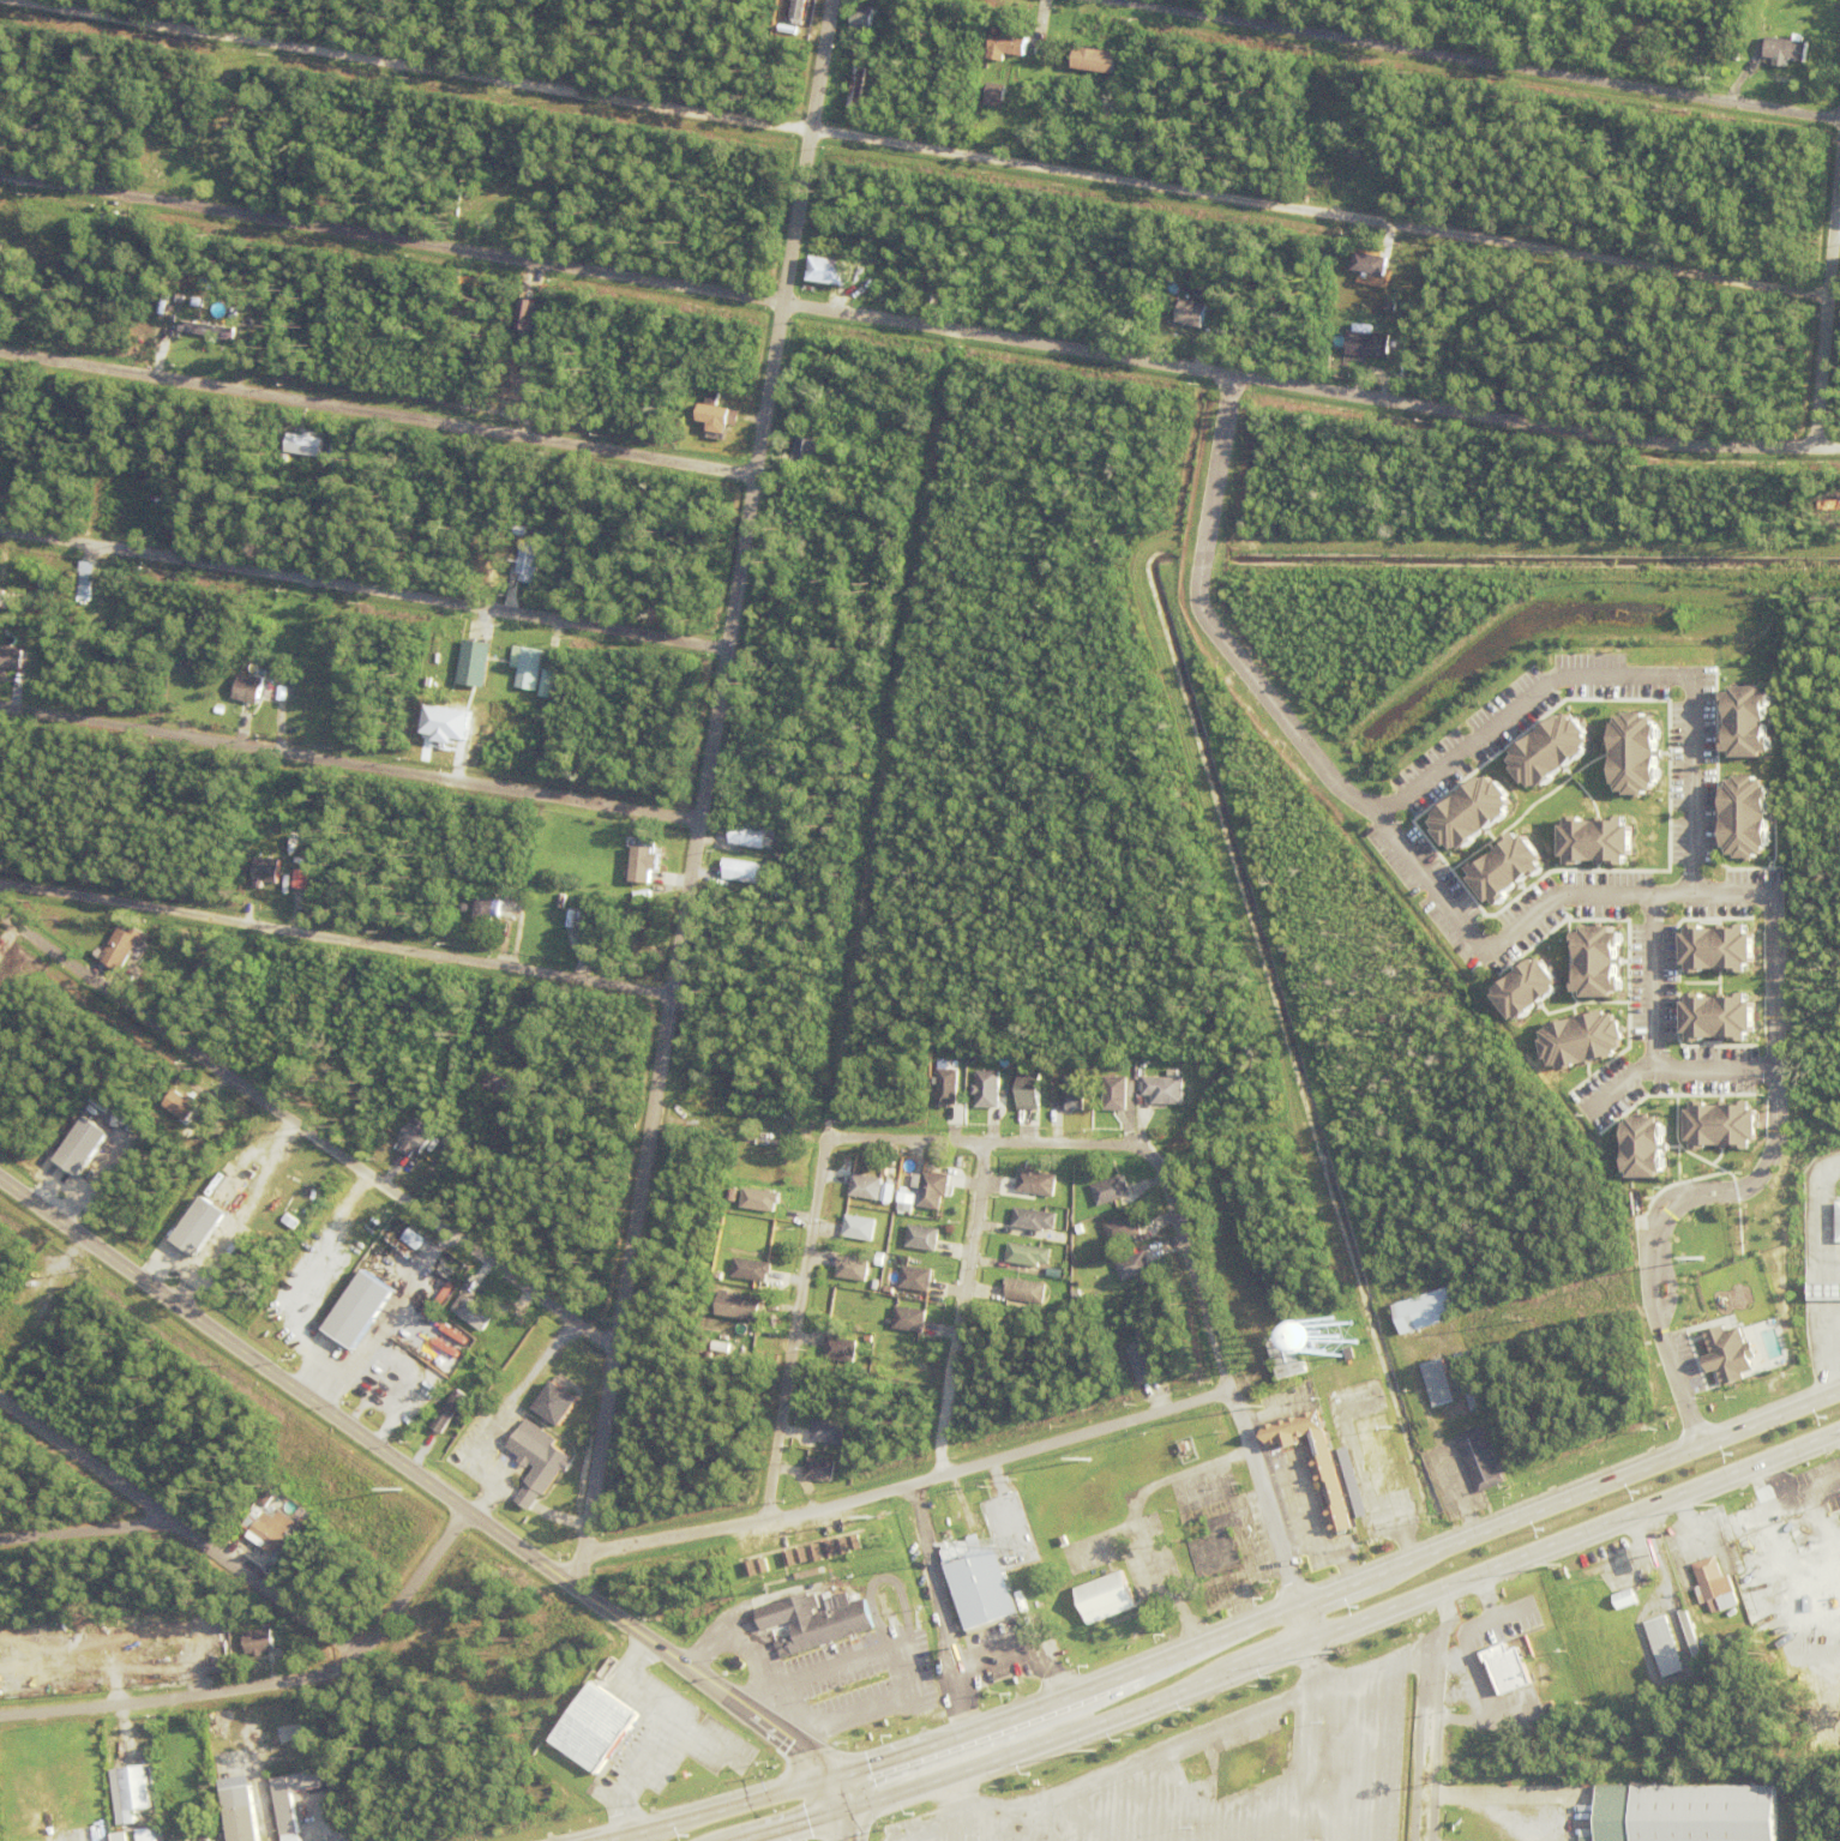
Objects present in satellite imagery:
building: (792, 1)
building: (488, 2)
building: (467, 6)
building: (513, 12)
building: (860, 14)
building: (1108, 37)
building: (1009, 42)
building: (1758, 46)
building: (1786, 50)
building: (1736, 55)
building: (1098, 59)
road: (1475, 60)
building: (1062, 71)
building: (859, 86)
building: (996, 95)
building: (362, 113)
building: (1359, 127)
building: (403, 132)
road: (925, 148)
building: (1363, 156)
building: (1333, 158)
building: (152, 164)
building: (1327, 169)
building: (468, 186)
building: (112, 227)
building: (125, 228)
building: (116, 251)
building: (1367, 263)
building: (824, 270)
building: (527, 284)
building: (1370, 287)
building: (384, 288)
building: (1199, 293)
building: (167, 297)
building: (494, 300)
building: (1189, 312)
building: (523, 314)
building: (1339, 314)
building: (398, 325)
road: (918, 325)
building: (1376, 326)
building: (208, 330)
building: (1186, 337)
building: (1364, 341)
road: (1832, 348)
building: (1203, 350)
building: (714, 410)
building: (73, 411)
road: (380, 414)
building: (305, 434)
building: (35, 441)
building: (810, 452)
building: (11, 457)
building: (467, 461)
building: (188, 494)
building: (1829, 505)
building: (151, 518)
building: (790, 549)
building: (529, 562)
building: (86, 580)
road: (367, 588)
building: (120, 591)
building: (8, 600)
building: (338, 613)
building: (120, 633)
building: (11, 657)
building: (335, 657)
building: (470, 663)
building: (530, 669)
road: (1568, 676)
building: (547, 684)
building: (246, 688)
building: (1744, 722)
building: (441, 723)
building: (1547, 751)
building: (1632, 754)
road: (353, 764)
road: (712, 778)
building: (1468, 812)
building: (1743, 817)
building: (748, 837)
building: (1594, 841)
building: (74, 858)
building: (645, 866)
building: (1503, 868)
building: (264, 871)
building: (742, 872)
building: (299, 879)
building: (261, 886)
building: (563, 902)
building: (497, 910)
building: (571, 916)
building: (584, 921)
road: (861, 928)
building: (589, 931)
building: (505, 938)
road: (338, 939)
building: (122, 947)
building: (1714, 949)
building: (0, 962)
building: (1595, 962)
building: (23, 970)
building: (413, 985)
building: (1523, 989)
building: (408, 1005)
building: (1714, 1018)
building: (483, 1034)
building: (1579, 1040)
building: (495, 1045)
building: (301, 1054)
building: (948, 1089)
building: (988, 1090)
building: (1165, 1091)
building: (1030, 1093)
building: (1074, 1094)
building: (1117, 1095)
building: (175, 1103)
building: (724, 1109)
building: (435, 1121)
building: (198, 1124)
building: (1718, 1125)
road: (306, 1132)
building: (416, 1142)
building: (1640, 1148)
building: (84, 1149)
building: (390, 1156)
road: (1763, 1172)
building: (1201, 1178)
building: (1038, 1184)
building: (867, 1189)
building: (931, 1190)
building: (1112, 1192)
building: (214, 1198)
building: (758, 1199)
building: (1202, 1202)
building: (734, 1203)
building: (907, 1208)
building: (1034, 1221)
building: (1838, 1221)
building: (1255, 1222)
building: (200, 1229)
building: (860, 1229)
building: (1124, 1231)
building: (410, 1239)
building: (758, 1239)
building: (924, 1239)
road: (1189, 1245)
building: (897, 1253)
building: (1029, 1257)
building: (850, 1268)
building: (1135, 1268)
building: (752, 1271)
building: (916, 1280)
building: (1749, 1289)
building: (1026, 1292)
building: (1077, 1298)
building: (996, 1299)
building: (736, 1306)
building: (354, 1311)
road: (966, 1313)
building: (1429, 1313)
building: (476, 1317)
building: (910, 1322)
building: (885, 1331)
building: (841, 1352)
building: (1726, 1354)
building: (438, 1358)
building: (1288, 1358)
building: (1138, 1360)
building: (1336, 1368)
building: (402, 1378)
building: (1472, 1383)
building: (1439, 1384)
building: (1360, 1398)
building: (1329, 1400)
building: (551, 1401)
building: (1336, 1402)
building: (1384, 1402)
building: (528, 1406)
building: (450, 1414)
building: (521, 1414)
building: (506, 1433)
building: (828, 1433)
building: (1339, 1433)
building: (428, 1439)
building: (441, 1444)
building: (539, 1460)
building: (1483, 1461)
building: (819, 1472)
building: (1327, 1475)
road: (422, 1479)
road: (913, 1490)
building: (523, 1496)
building: (1354, 1497)
building: (267, 1498)
building: (302, 1524)
road: (179, 1528)
building: (270, 1532)
road: (89, 1533)
building: (874, 1534)
building: (853, 1542)
building: (1063, 1544)
building: (1216, 1545)
building: (841, 1546)
building: (828, 1550)
building: (814, 1553)
building: (800, 1556)
building: (788, 1559)
building: (289, 1563)
building: (760, 1565)
building: (748, 1569)
building: (808, 1572)
road: (584, 1576)
building: (978, 1582)
road: (413, 1584)
building: (747, 1584)
building: (1715, 1589)
building: (1745, 1595)
building: (1105, 1596)
building: (1625, 1602)
building: (272, 1622)
building: (813, 1622)
road: (1467, 1622)
road: (1226, 1634)
building: (259, 1644)
building: (1695, 1647)
building: (1665, 1648)
road: (1309, 1650)
building: (1504, 1667)
road: (182, 1699)
building: (591, 1726)
building: (218, 1734)
building: (145, 1744)
building: (151, 1770)
parking lot: (1223, 1775)
building: (14, 1786)
building: (132, 1795)
building: (294, 1801)
road: (853, 1809)
building: (1684, 1813)
building: (242, 1816)
building: (98, 1817)
building: (89, 1835)
building: (187, 1835)
building: (146, 1836)
building: (120, 1837)
building: (178, 1840)
building: (319, 1840)

